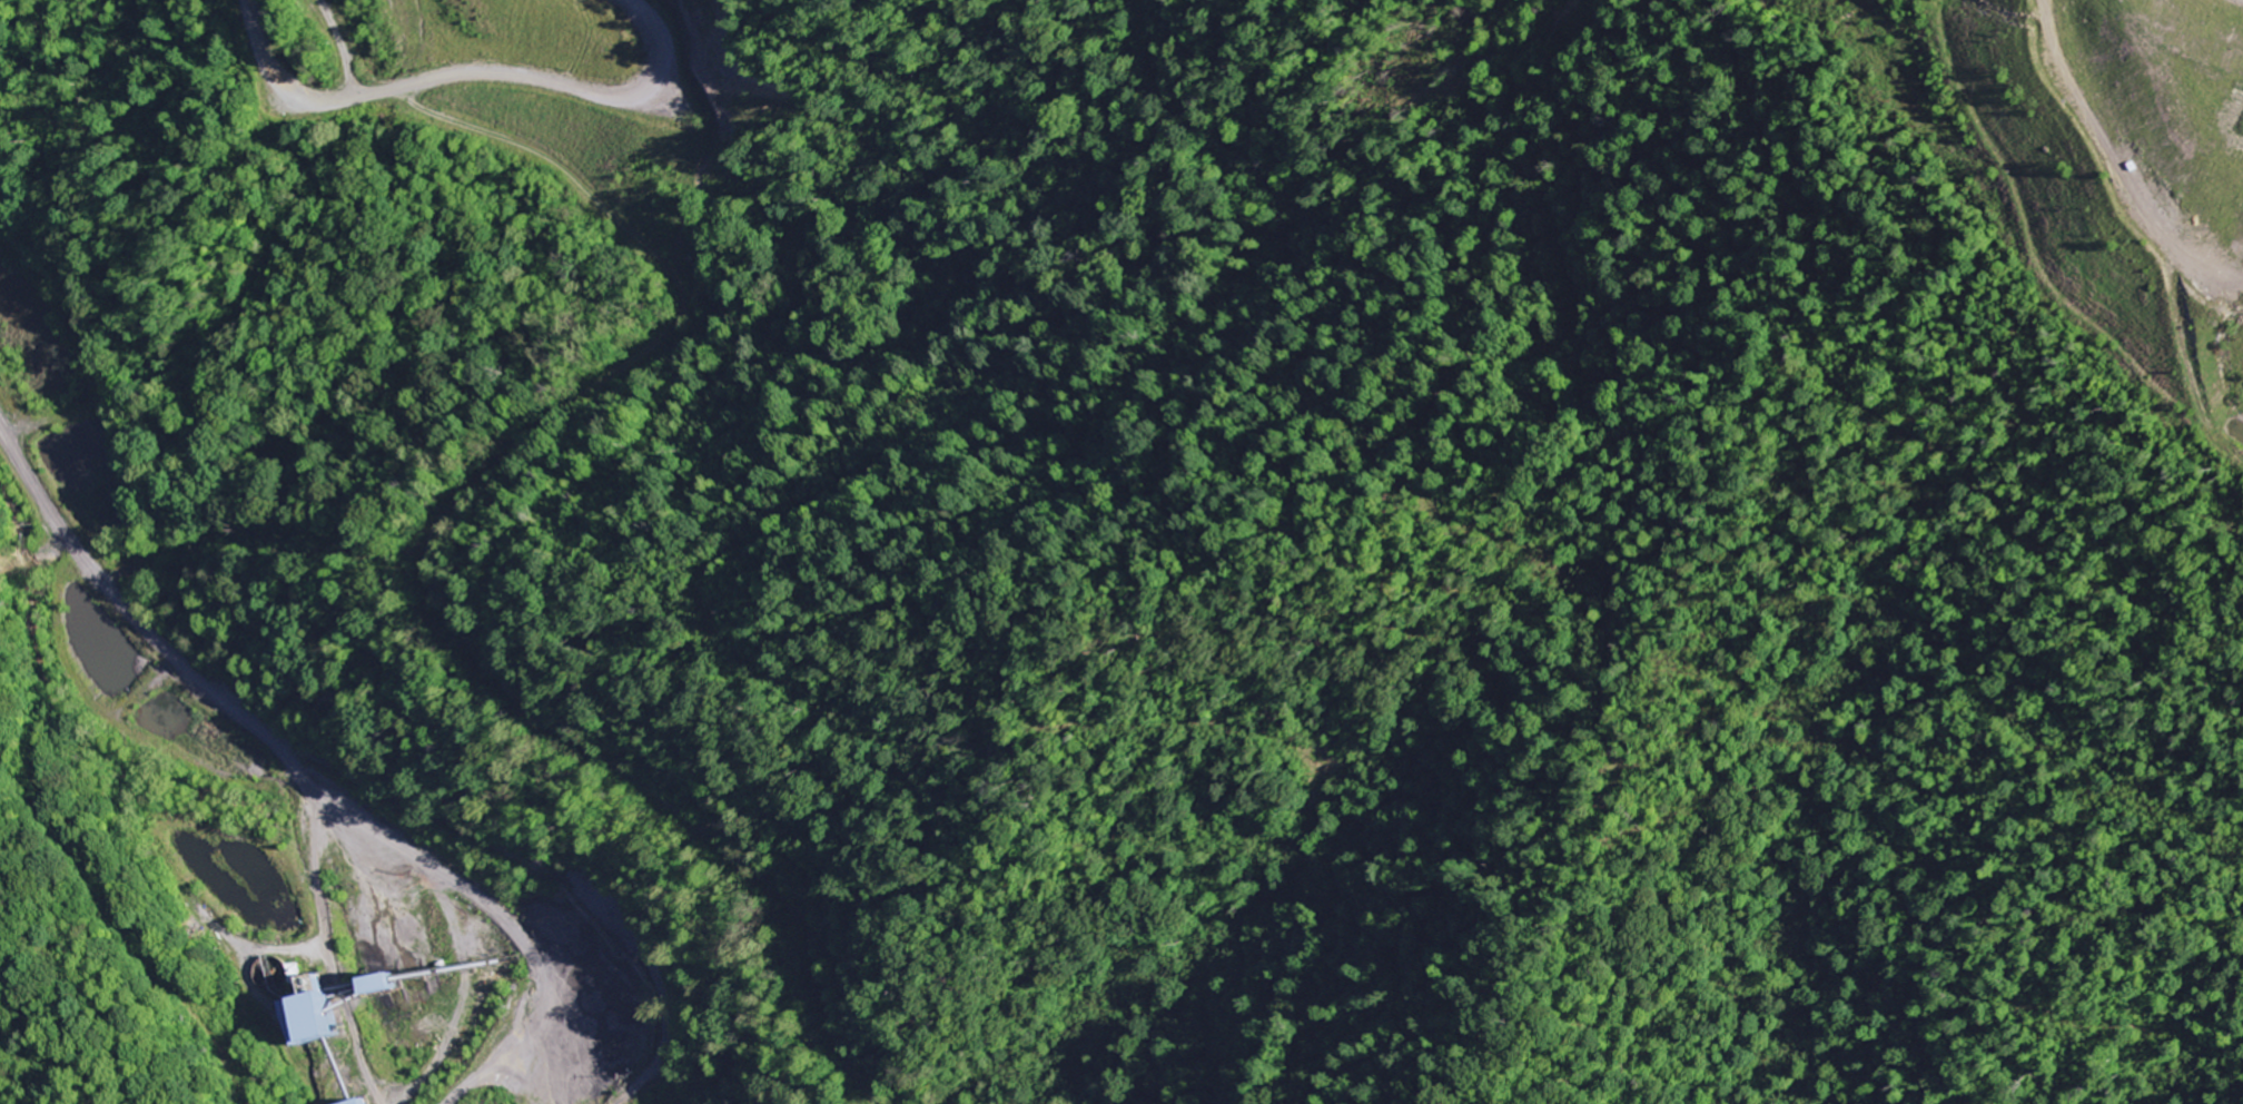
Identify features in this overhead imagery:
building: (354, 984)
building: (288, 1000)
building: (350, 1101)

